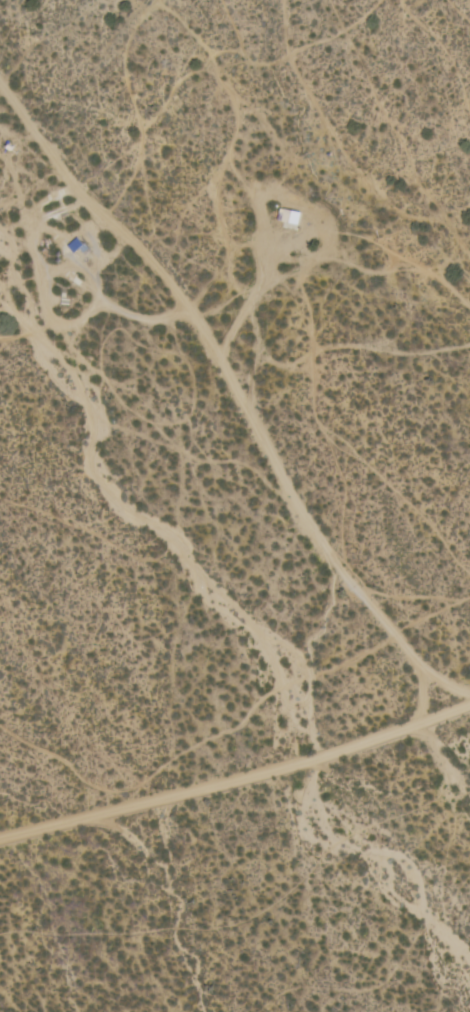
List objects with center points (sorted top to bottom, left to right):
road: (242, 401)
road: (237, 777)

